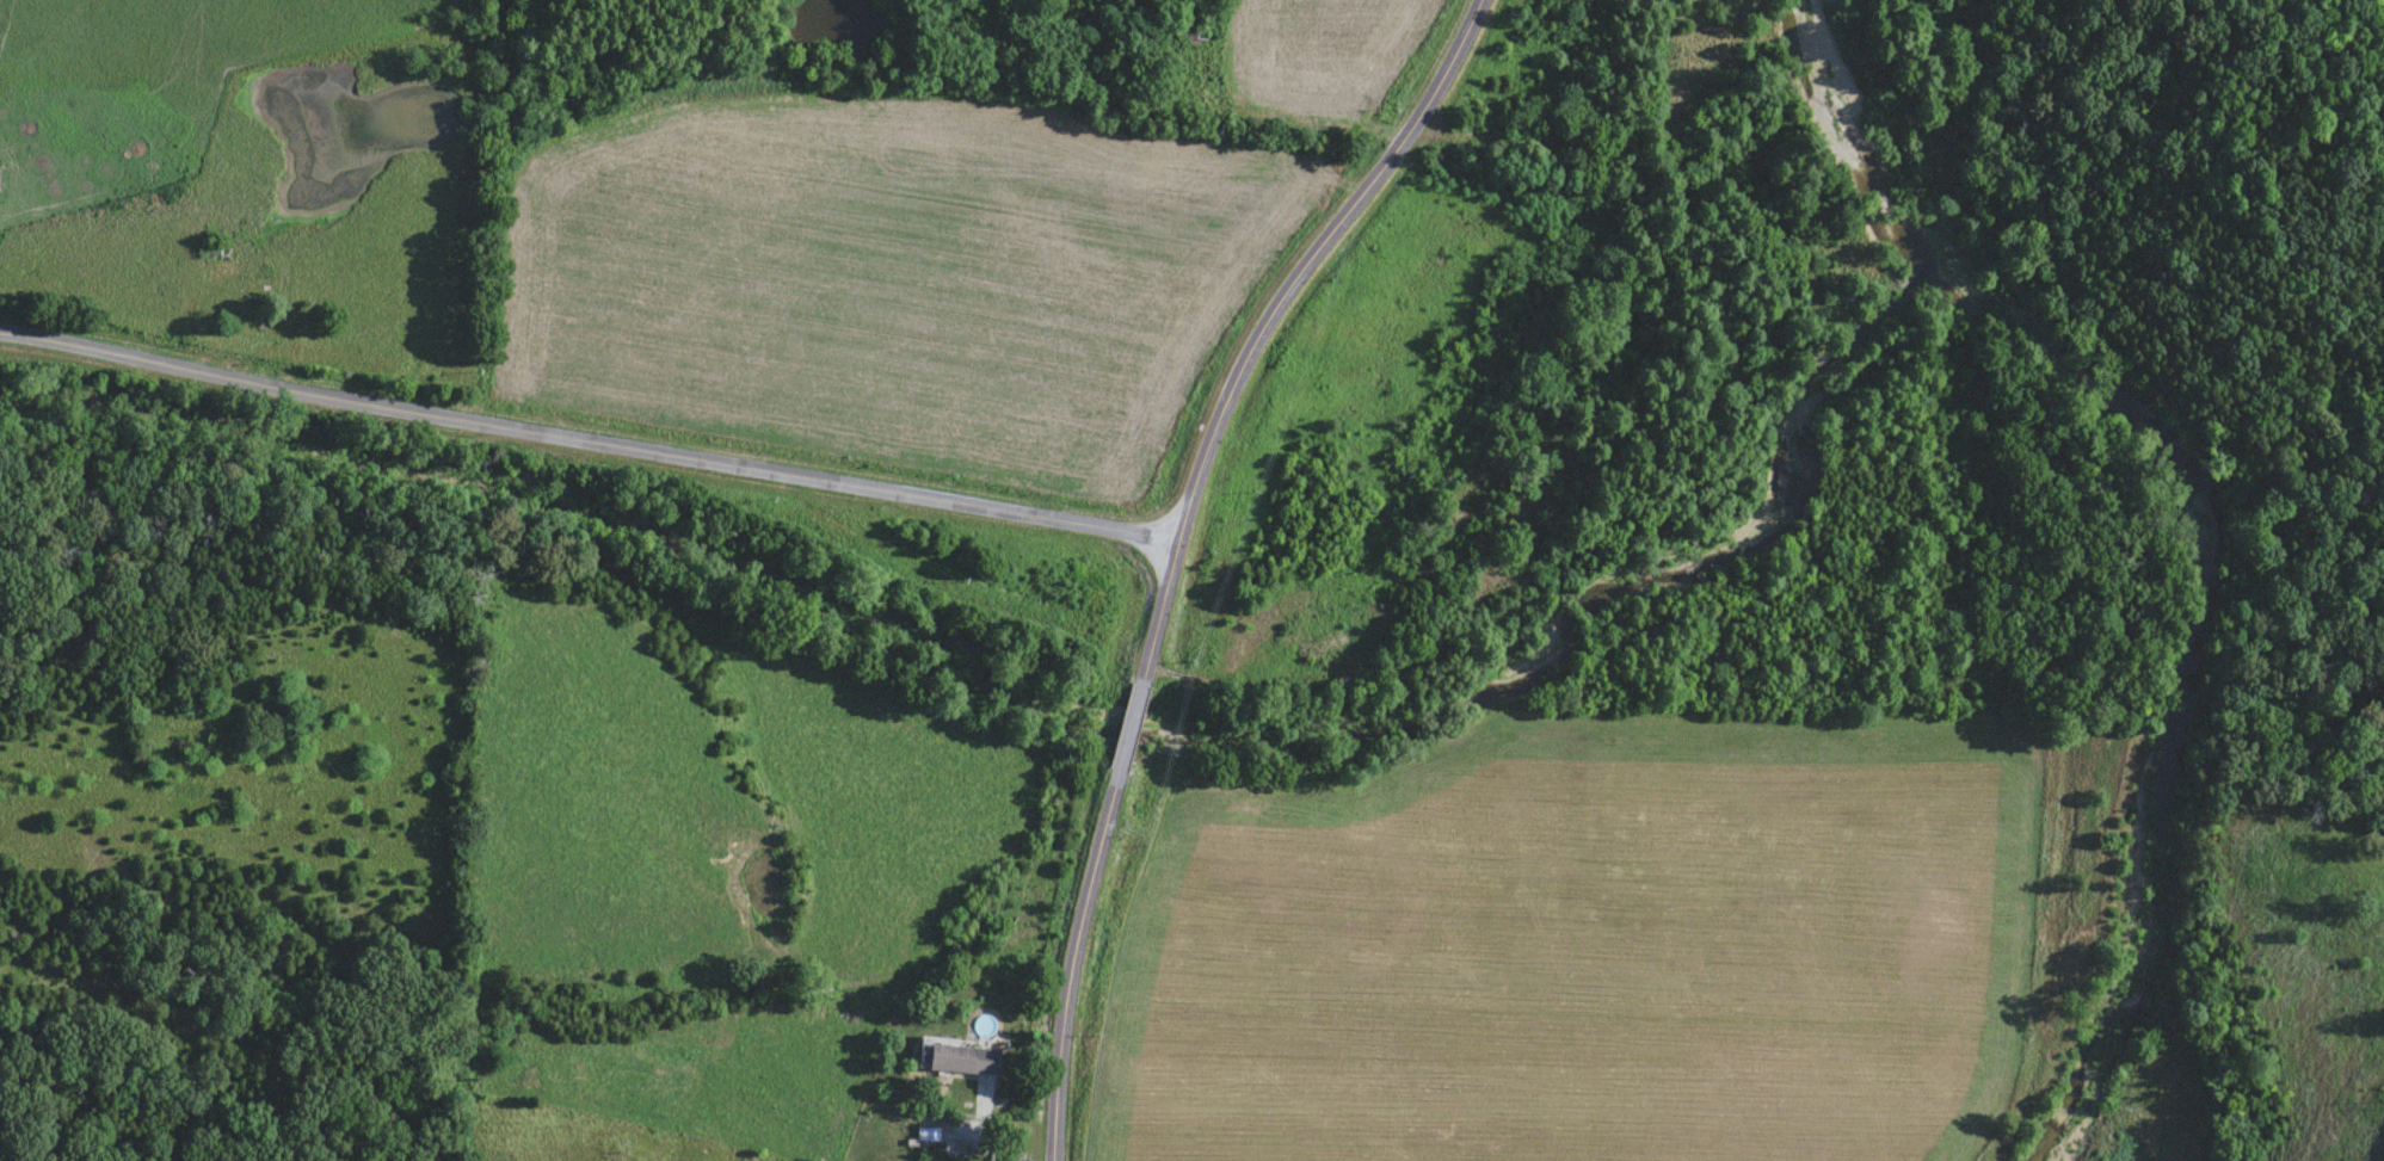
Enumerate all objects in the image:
building: (1184, 37)
road: (585, 440)
road: (1172, 542)
building: (959, 1060)

